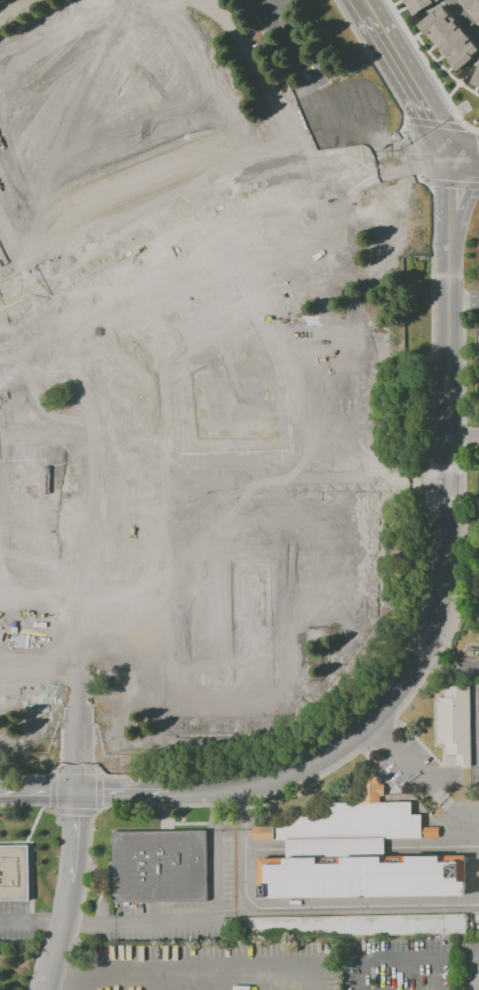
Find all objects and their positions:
building: (419, 5)
road: (350, 8)
building: (472, 9)
road: (378, 14)
road: (464, 18)
road: (367, 22)
building: (448, 37)
road: (434, 59)
building: (476, 77)
road: (415, 84)
road: (456, 84)
traffic signals: (445, 144)
road: (461, 145)
road: (427, 152)
road: (446, 154)
road: (428, 162)
traffic signals: (447, 164)
road: (463, 165)
road: (447, 176)
road: (211, 198)
road: (461, 208)
road: (447, 215)
road: (29, 294)
road: (463, 302)
road: (31, 347)
building: (233, 358)
building: (5, 378)
road: (45, 382)
road: (463, 436)
road: (426, 484)
road: (446, 496)
building: (235, 612)
building: (18, 633)
building: (470, 653)
road: (450, 662)
building: (455, 724)
road: (77, 775)
road: (424, 779)
road: (276, 782)
road: (38, 792)
traffic signals: (77, 792)
road: (123, 793)
road: (468, 810)
building: (262, 832)
building: (359, 852)
building: (161, 866)
building: (14, 872)
road: (68, 892)
road: (319, 907)
road: (202, 919)
road: (31, 923)
road: (387, 960)
parking lot: (467, 963)
road: (210, 970)
road: (476, 971)

